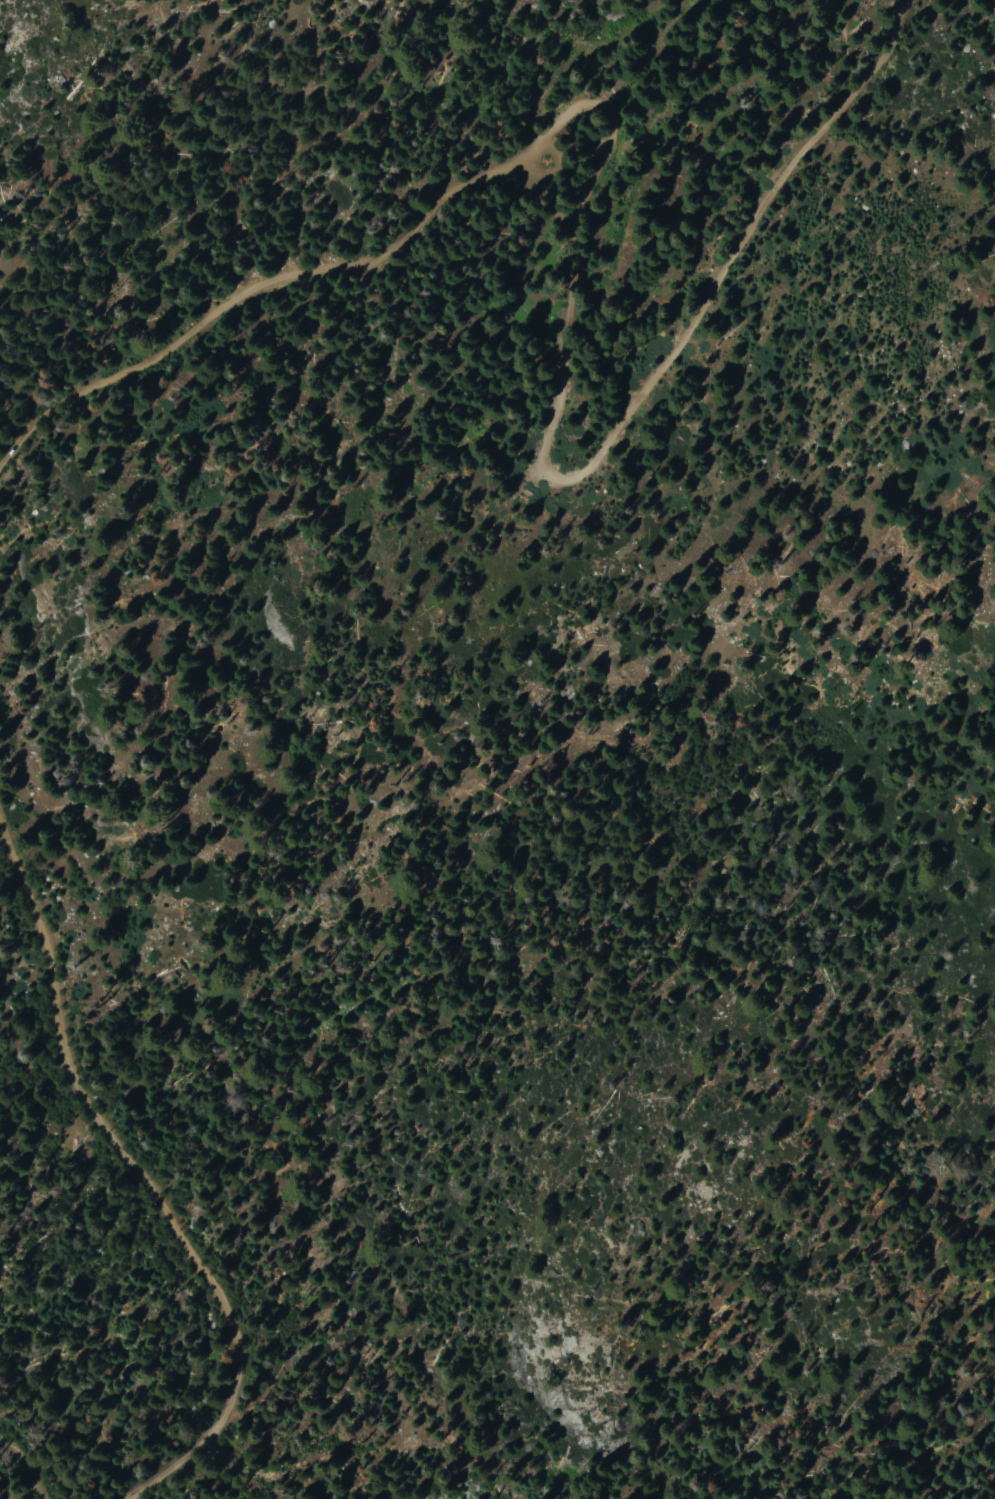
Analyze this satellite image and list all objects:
road: (572, 205)
road: (148, 1175)
road: (41, 1447)

